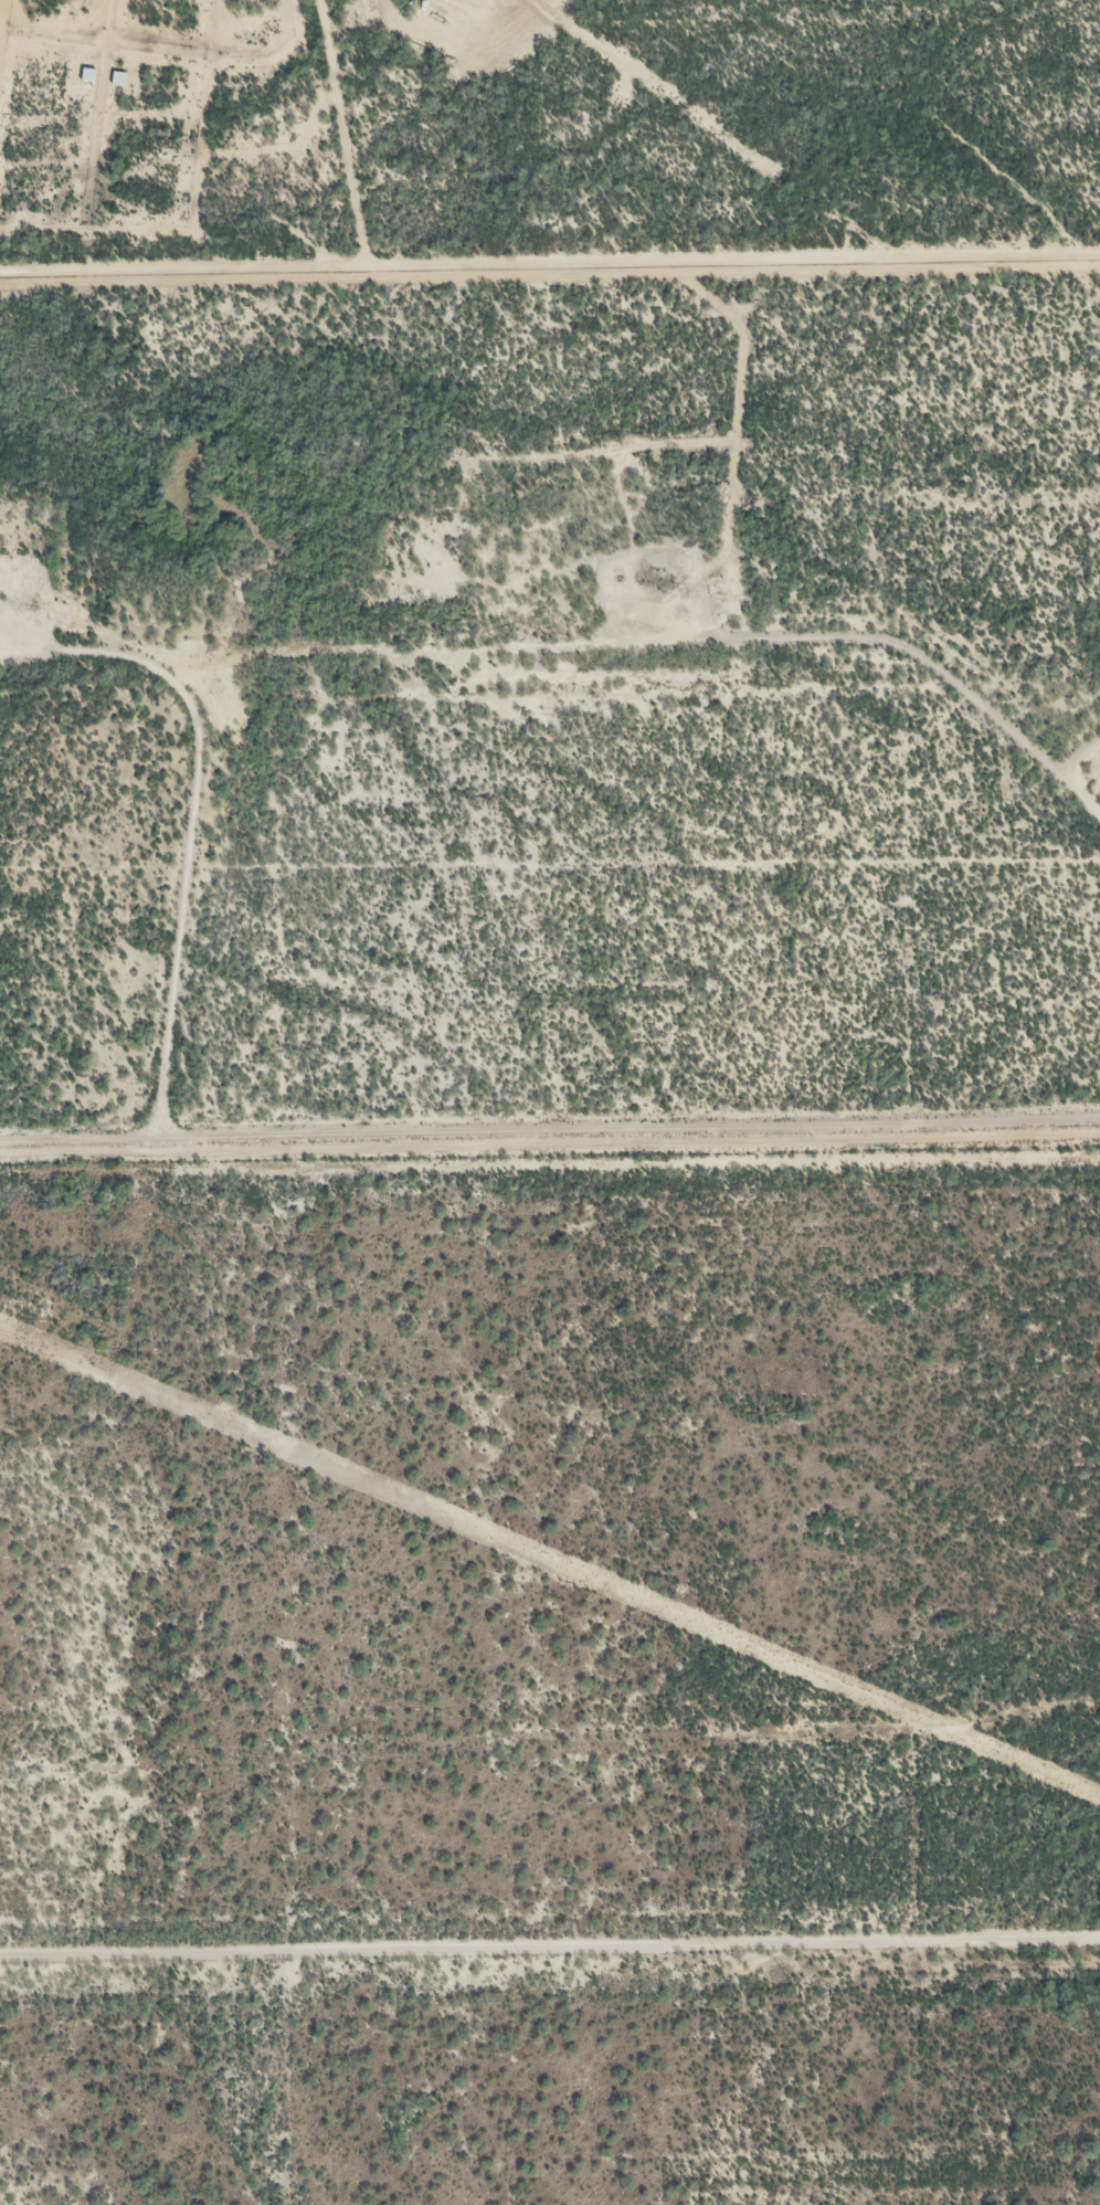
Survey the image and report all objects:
road: (550, 1143)
road: (550, 1950)

